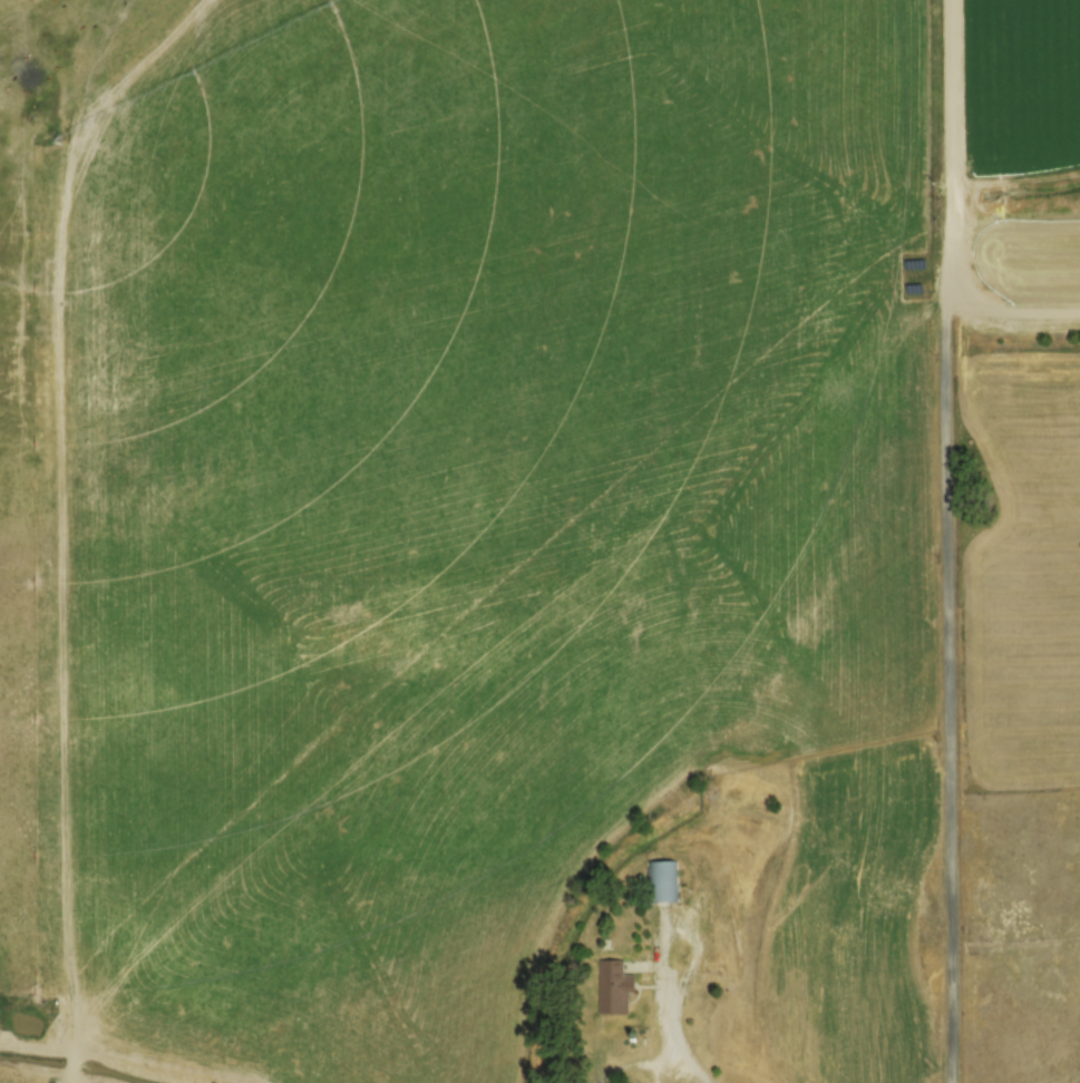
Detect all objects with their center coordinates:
road: (955, 144)
road: (1015, 310)
road: (951, 684)
building: (661, 880)
building: (613, 986)
road: (670, 1032)

